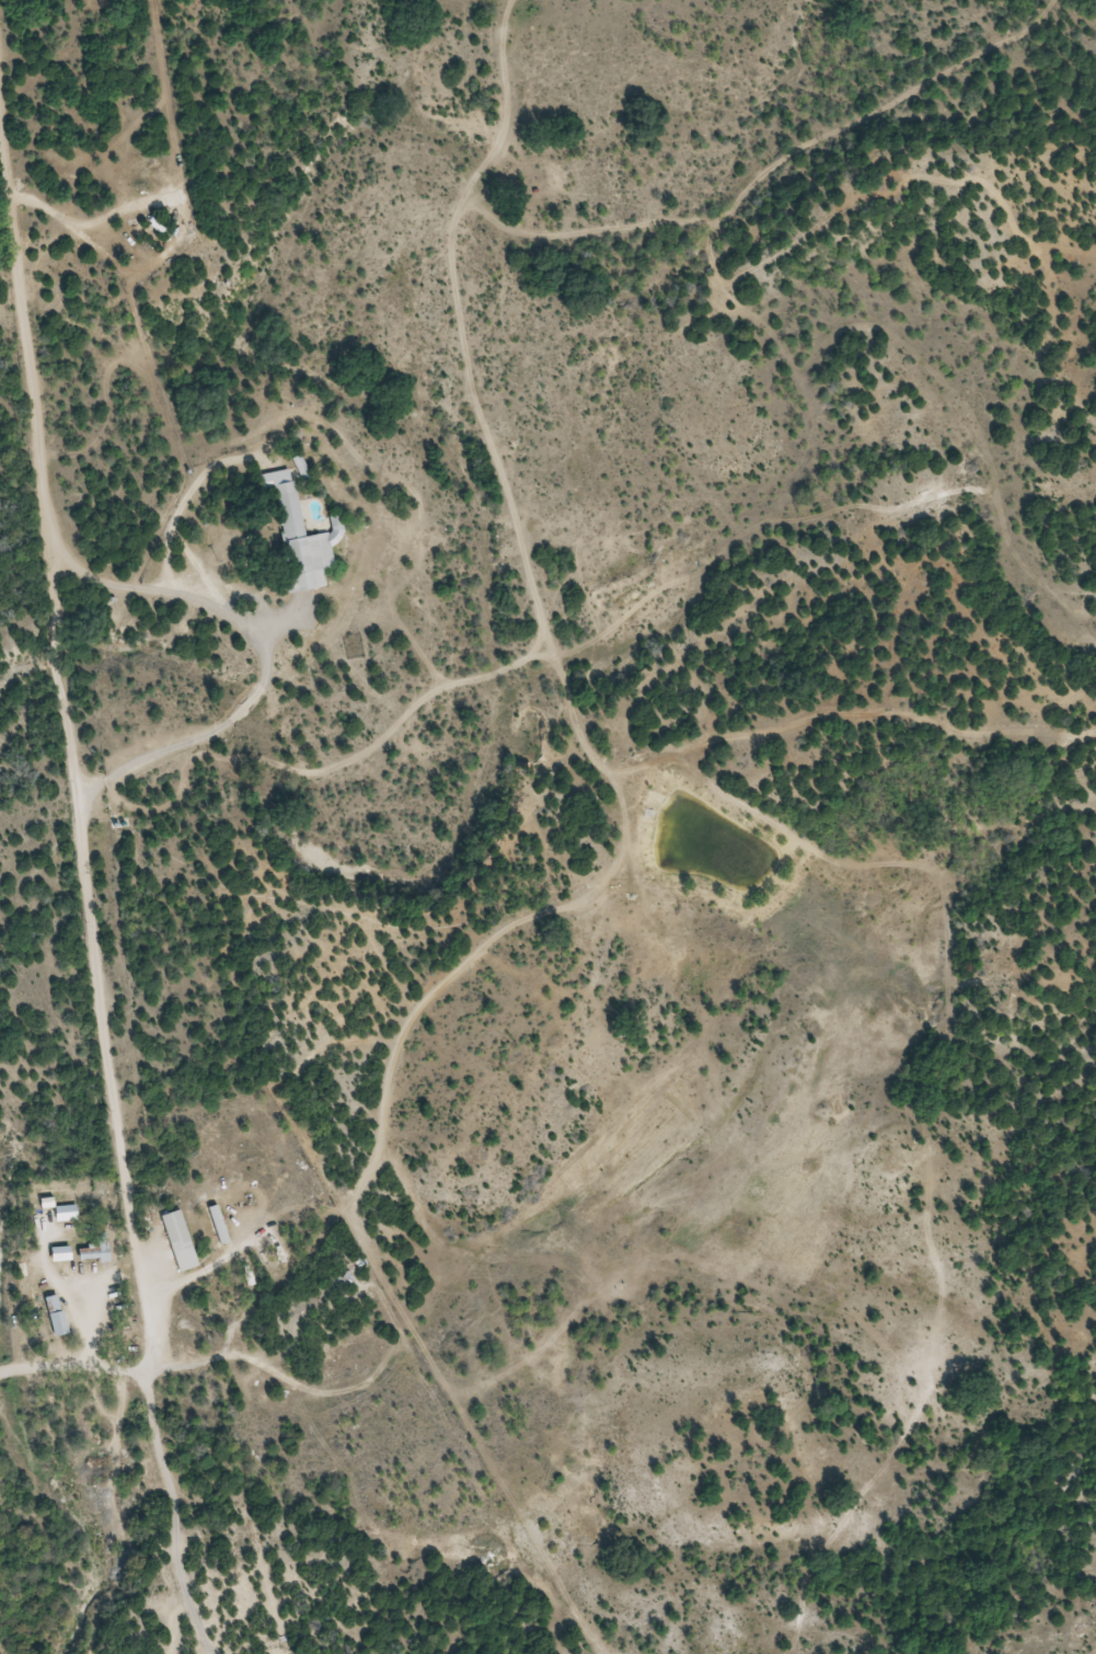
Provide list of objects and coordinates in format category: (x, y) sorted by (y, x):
building: (299, 535)
road: (78, 813)
building: (249, 1118)
building: (284, 1150)
building: (223, 1167)
building: (312, 1187)
building: (212, 1227)
building: (176, 1241)
building: (256, 1245)

